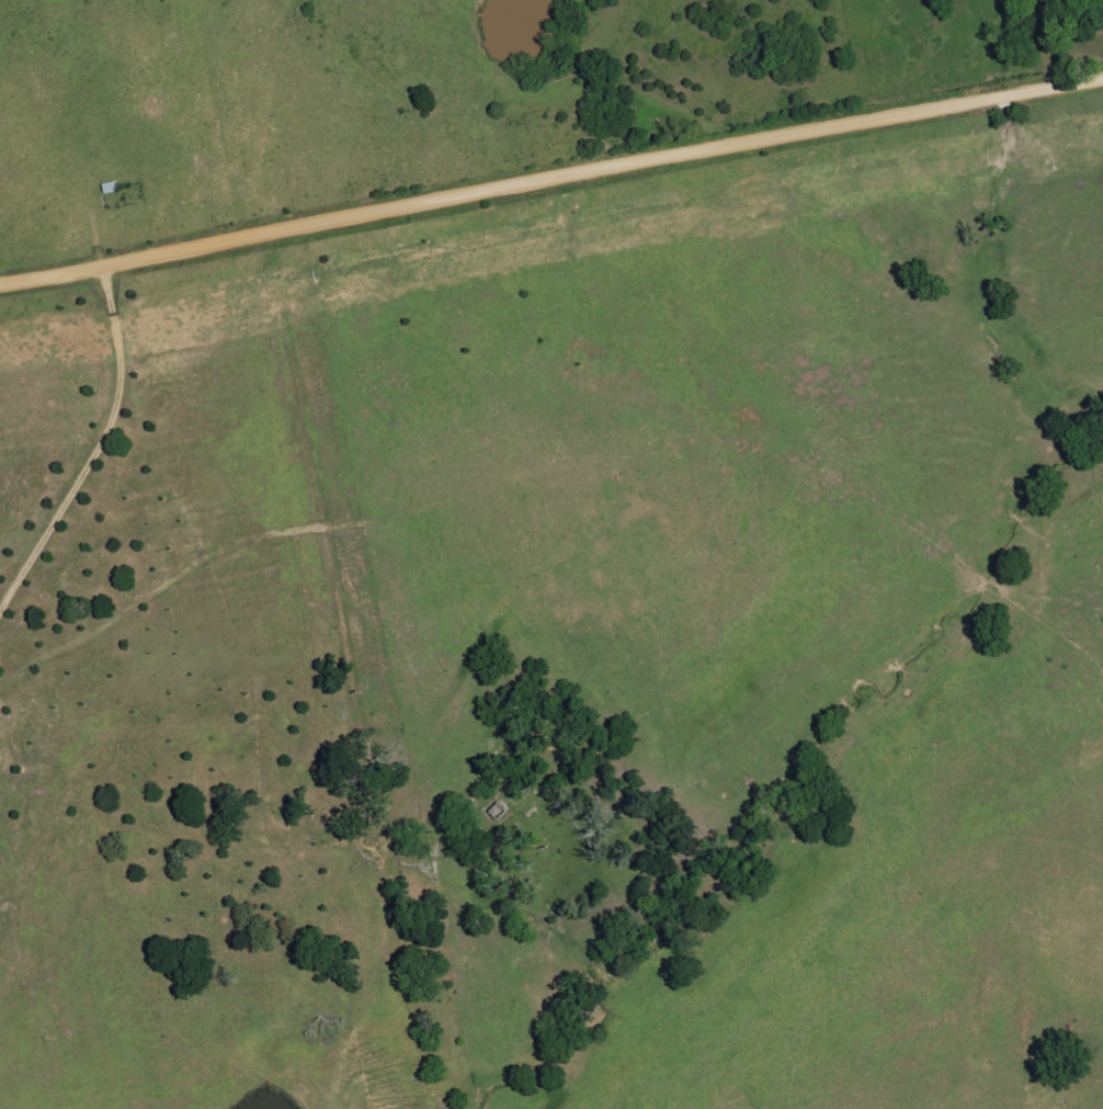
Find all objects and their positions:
road: (550, 177)
road: (99, 451)
road: (350, 671)

